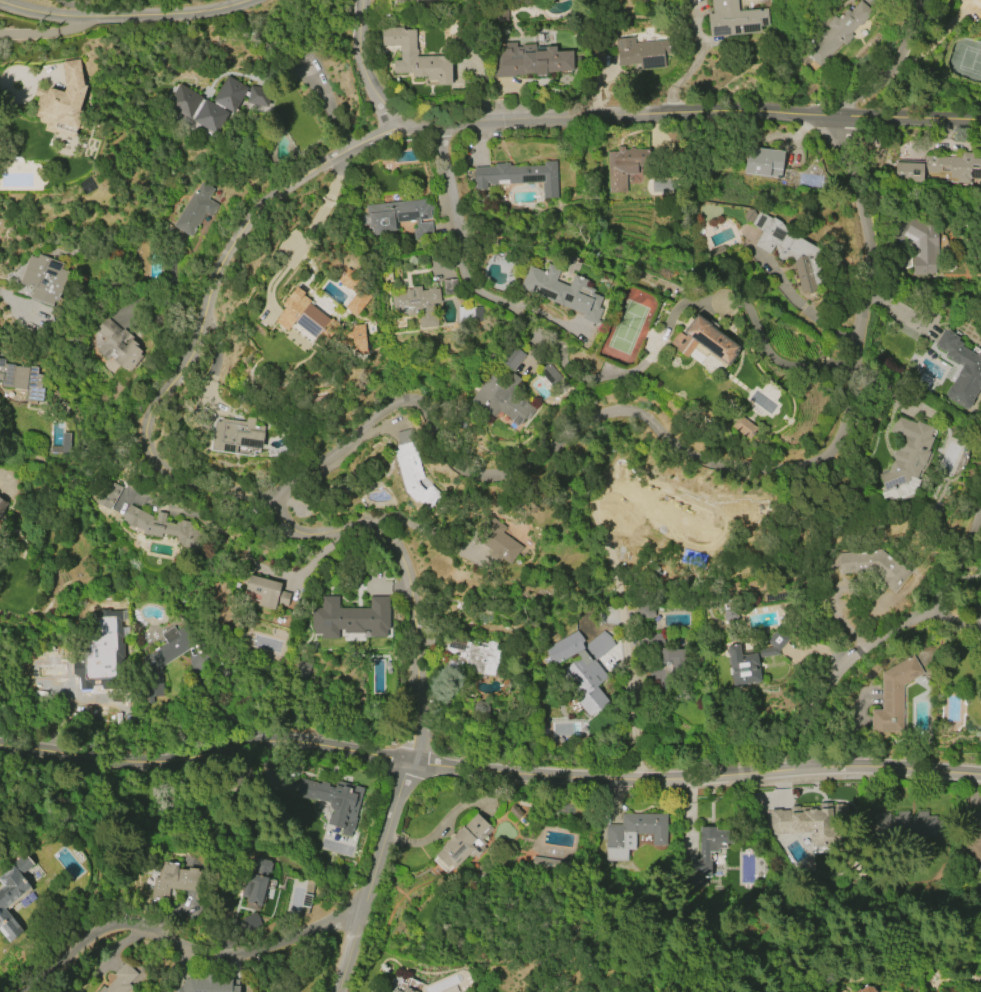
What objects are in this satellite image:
building: (405, 0)
road: (71, 8)
road: (124, 18)
building: (734, 19)
building: (838, 32)
road: (44, 34)
building: (642, 52)
building: (415, 57)
building: (530, 59)
road: (9, 84)
building: (62, 102)
building: (207, 103)
road: (621, 119)
building: (763, 162)
building: (624, 166)
building: (939, 167)
building: (518, 176)
building: (195, 209)
building: (399, 217)
road: (457, 224)
road: (310, 231)
building: (922, 248)
building: (787, 249)
building: (44, 278)
building: (449, 286)
building: (563, 291)
building: (357, 302)
road: (15, 304)
building: (417, 304)
building: (470, 313)
road: (546, 317)
building: (358, 339)
building: (704, 340)
building: (119, 344)
building: (512, 357)
building: (961, 369)
building: (23, 378)
building: (502, 398)
building: (743, 427)
road: (143, 433)
building: (236, 435)
building: (907, 452)
road: (731, 467)
building: (412, 472)
building: (107, 494)
building: (2, 504)
building: (672, 511)
building: (158, 524)
building: (498, 541)
road: (958, 561)
building: (873, 566)
building: (263, 590)
building: (645, 611)
building: (350, 617)
building: (789, 646)
building: (472, 656)
building: (752, 658)
building: (161, 661)
road: (840, 665)
building: (669, 668)
building: (300, 669)
building: (582, 669)
road: (631, 693)
building: (893, 696)
road: (415, 712)
road: (489, 771)
building: (333, 801)
building: (804, 821)
building: (917, 825)
road: (440, 826)
building: (633, 834)
building: (972, 835)
building: (464, 842)
building: (703, 855)
building: (548, 866)
road: (369, 876)
building: (174, 879)
building: (256, 880)
building: (11, 895)
building: (251, 922)
road: (182, 945)
building: (120, 980)
building: (208, 985)
building: (866, 989)
building: (406, 990)
building: (396, 991)

